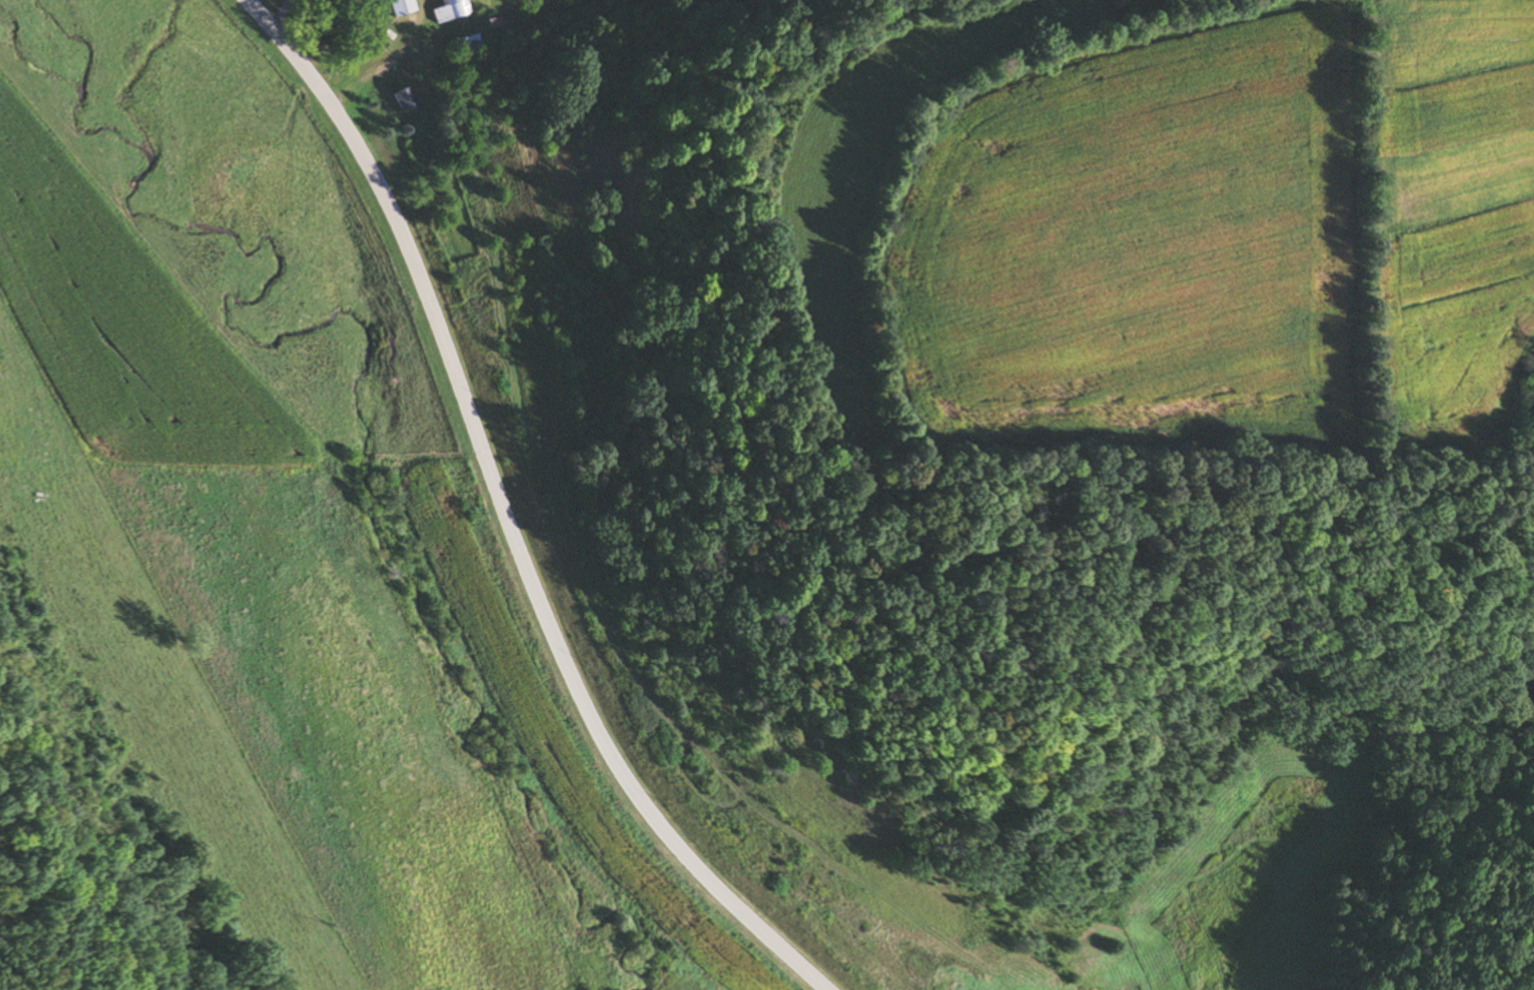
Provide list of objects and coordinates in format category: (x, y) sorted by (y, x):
building: (398, 7)
building: (448, 10)
road: (281, 15)
building: (467, 42)
building: (403, 98)
road: (509, 515)
crop: (273, 595)

